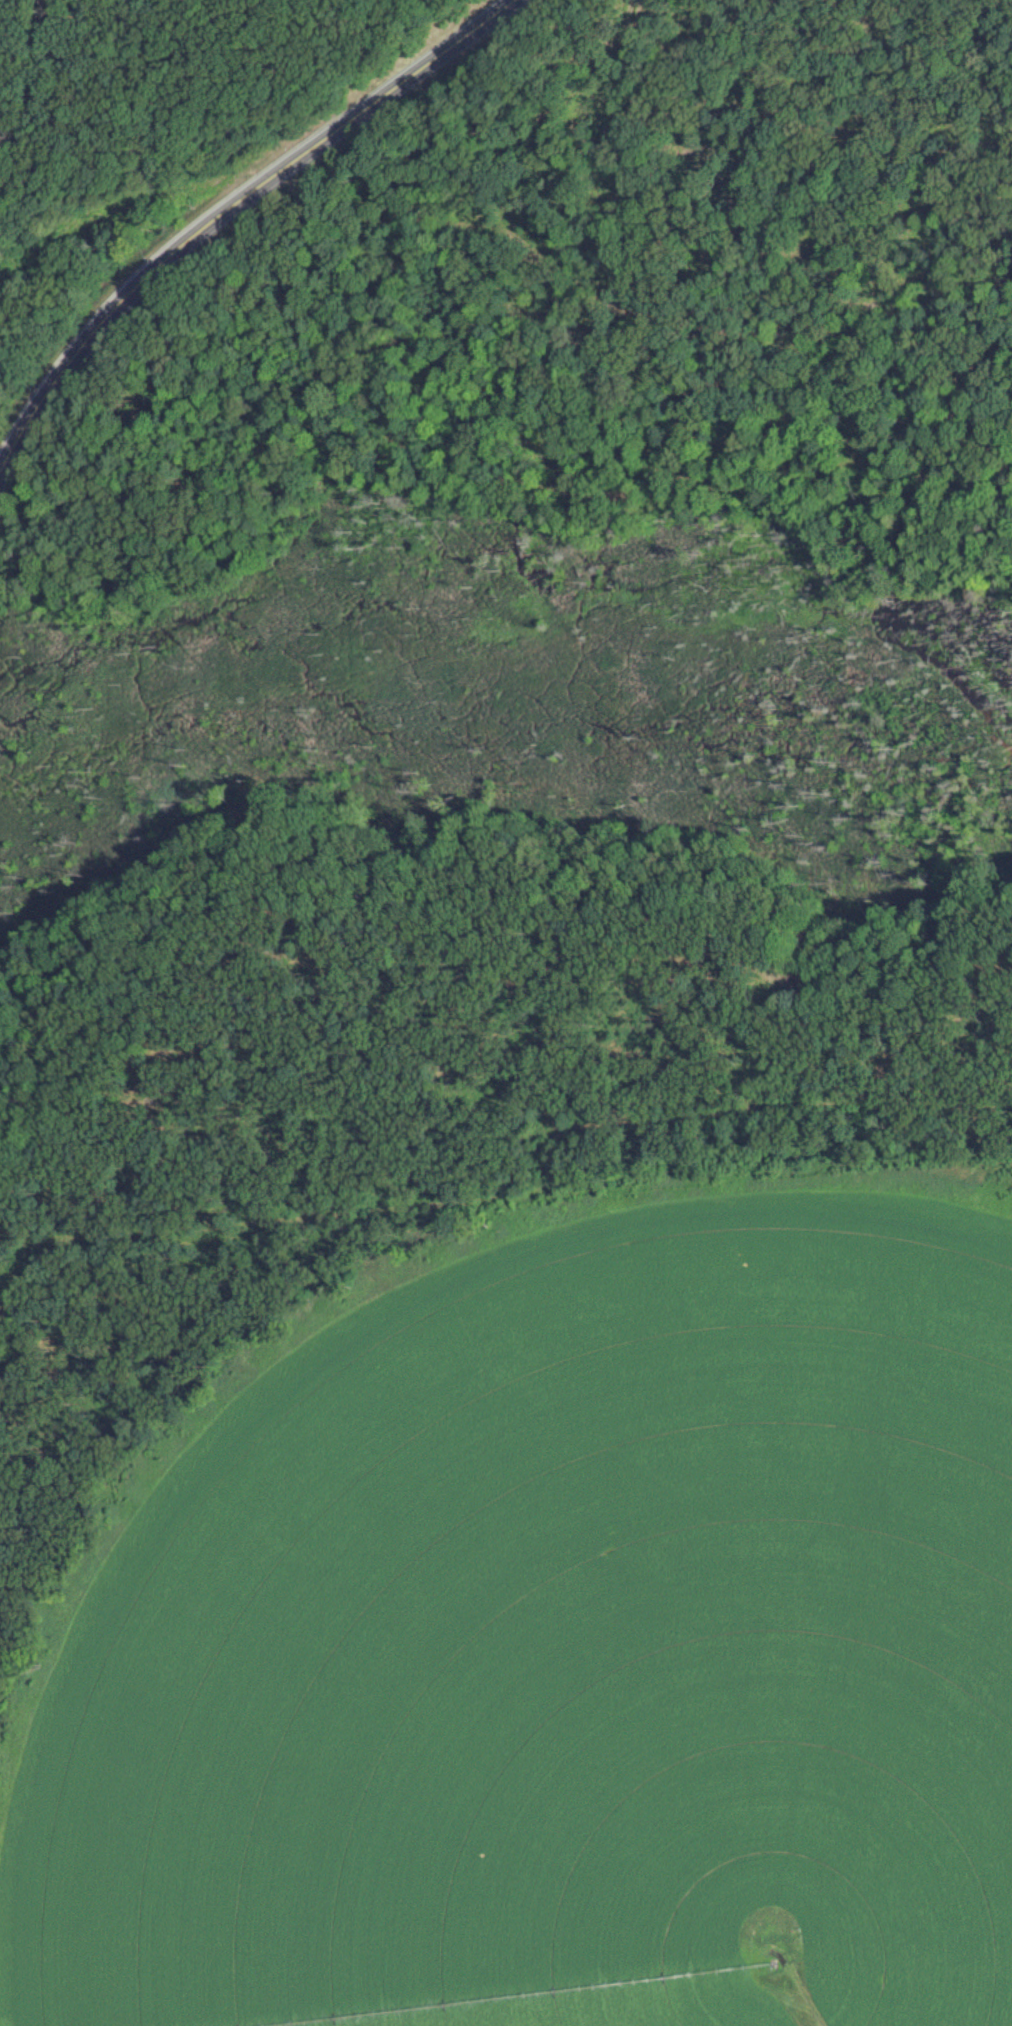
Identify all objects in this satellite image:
road: (227, 208)
wastewater plant: (527, 1575)

